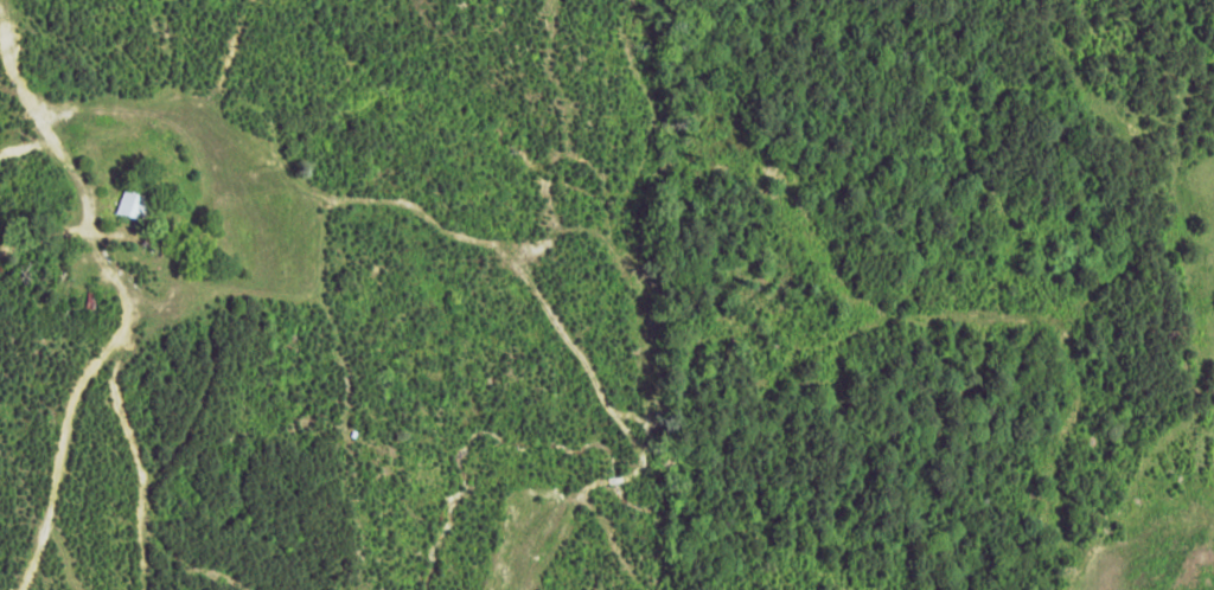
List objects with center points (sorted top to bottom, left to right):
building: (132, 203)
road: (37, 297)

